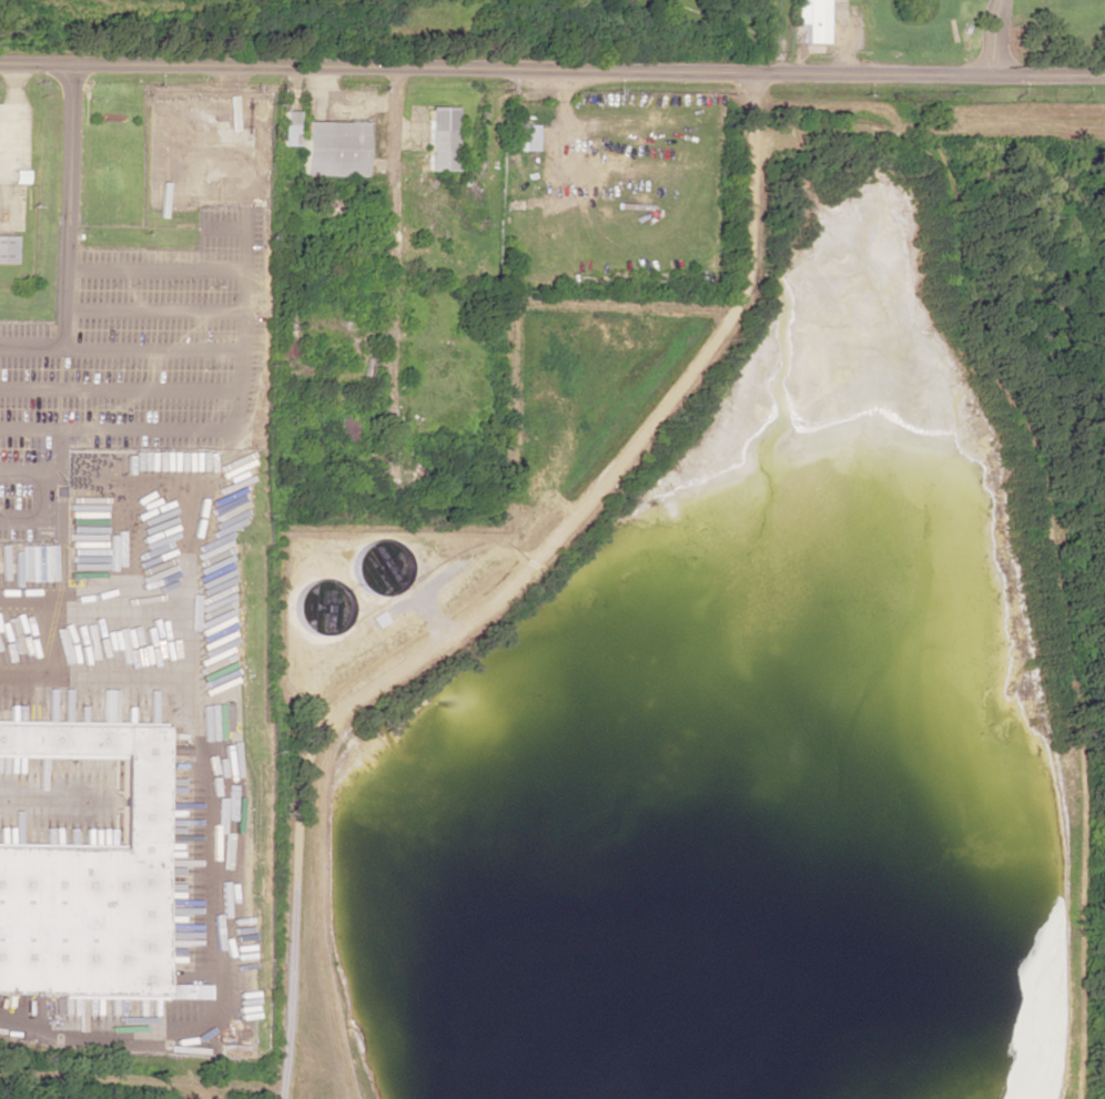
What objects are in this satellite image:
building: (811, 19)
road: (991, 37)
road: (551, 71)
building: (288, 129)
building: (518, 138)
building: (439, 139)
building: (331, 149)
building: (8, 248)
road: (393, 281)
building: (283, 343)
road: (32, 348)
road: (140, 348)
building: (345, 429)
road: (39, 493)
road: (505, 591)
building: (92, 879)

